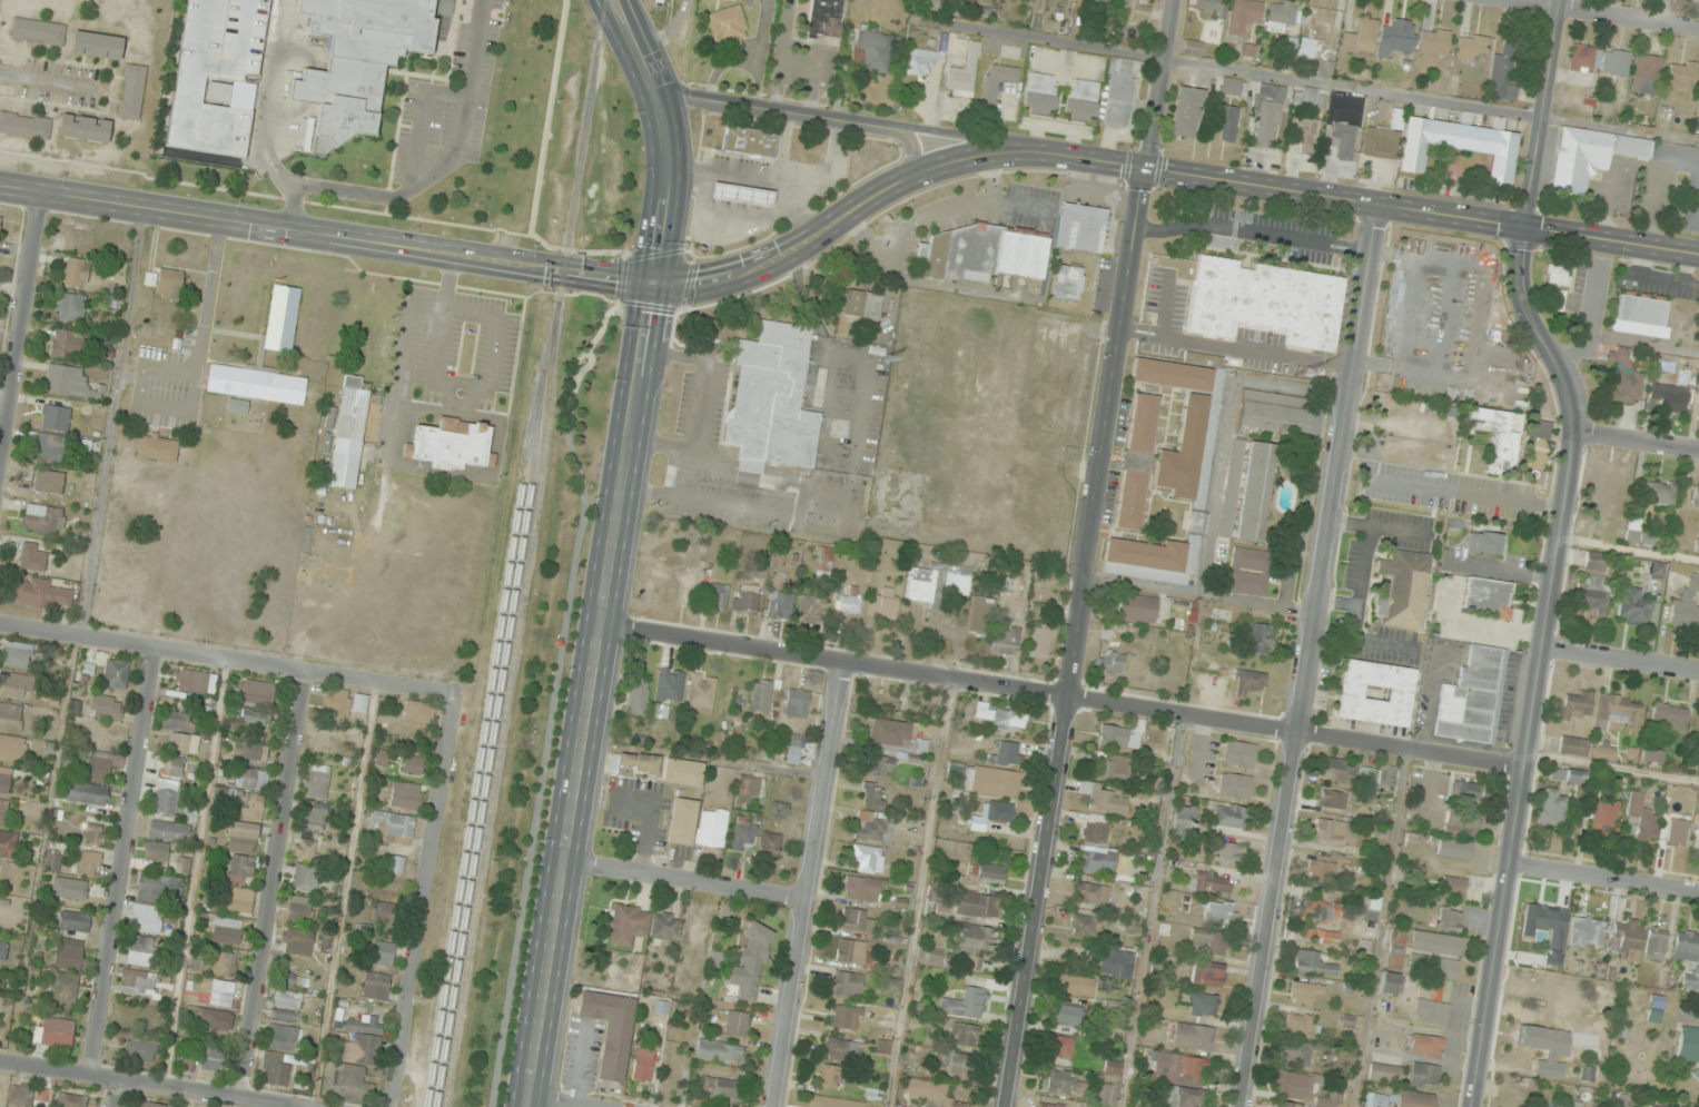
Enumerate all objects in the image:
building: (1697, 0)
building: (1095, 1)
building: (927, 3)
building: (1208, 4)
building: (1136, 10)
road: (1663, 11)
road: (1609, 13)
building: (1244, 16)
building: (1282, 16)
building: (824, 19)
building: (728, 27)
building: (38, 31)
road: (671, 31)
road: (240, 34)
building: (1360, 37)
building: (1396, 38)
building: (1433, 41)
building: (97, 45)
road: (199, 46)
building: (1193, 47)
building: (1471, 47)
building: (1288, 49)
building: (1248, 50)
building: (872, 51)
building: (1582, 58)
building: (356, 59)
building: (925, 59)
building: (1616, 62)
road: (230, 69)
building: (1505, 72)
building: (1646, 73)
building: (964, 75)
building: (1680, 78)
building: (997, 80)
road: (1157, 82)
building: (1233, 87)
building: (131, 91)
building: (218, 91)
building: (1119, 91)
building: (1039, 93)
building: (1307, 97)
road: (260, 99)
building: (1080, 99)
road: (773, 110)
building: (1186, 111)
building: (1267, 112)
road: (422, 116)
road: (1538, 116)
building: (1226, 122)
building: (24, 126)
building: (83, 128)
building: (1343, 132)
building: (1305, 135)
road: (961, 137)
building: (1382, 139)
building: (749, 141)
building: (1460, 145)
road: (909, 146)
building: (213, 156)
building: (1590, 156)
road: (448, 160)
traffic signals: (1146, 166)
building: (741, 195)
road: (290, 206)
building: (1081, 228)
traffic signals: (1518, 233)
road: (1608, 244)
building: (981, 253)
road: (770, 260)
building: (76, 273)
building: (1067, 281)
building: (1558, 283)
building: (170, 284)
traffic signals: (653, 285)
building: (1265, 302)
building: (861, 304)
building: (69, 308)
building: (1640, 315)
building: (281, 318)
road: (20, 328)
building: (69, 345)
building: (1624, 376)
building: (67, 380)
building: (1698, 382)
building: (256, 383)
building: (1668, 397)
building: (767, 398)
building: (238, 406)
building: (1274, 413)
building: (55, 417)
building: (1188, 421)
building: (348, 433)
building: (1500, 437)
road: (1633, 437)
building: (452, 445)
building: (158, 446)
building: (48, 447)
building: (1136, 462)
building: (48, 482)
building: (1247, 491)
building: (1658, 493)
building: (1692, 493)
building: (42, 521)
building: (1197, 522)
building: (1638, 533)
building: (1488, 543)
building: (1697, 546)
road: (613, 548)
railway: (529, 554)
building: (33, 556)
building: (1150, 560)
building: (1594, 561)
building: (823, 563)
building: (1657, 570)
building: (1249, 571)
building: (938, 583)
building: (685, 587)
building: (1403, 589)
building: (43, 593)
building: (1593, 595)
building: (718, 596)
building: (1486, 596)
building: (744, 597)
building: (848, 600)
building: (1687, 603)
building: (780, 604)
building: (883, 604)
building: (1633, 606)
building: (1137, 607)
building: (811, 609)
building: (980, 615)
building: (1107, 631)
road: (1077, 636)
building: (1257, 639)
building: (1006, 640)
building: (1040, 642)
building: (17, 654)
road: (1308, 656)
road: (228, 659)
road: (1621, 660)
building: (1109, 662)
road: (1540, 665)
building: (116, 673)
building: (191, 681)
building: (1248, 682)
building: (13, 685)
building: (669, 685)
building: (257, 691)
building: (701, 692)
building: (1374, 693)
building: (761, 695)
road: (1063, 696)
building: (639, 698)
building: (1473, 698)
building: (359, 702)
building: (336, 703)
building: (797, 703)
building: (1575, 705)
building: (107, 706)
building: (418, 711)
building: (1619, 713)
building: (10, 716)
building: (1669, 716)
building: (1002, 718)
building: (253, 719)
building: (178, 720)
building: (890, 732)
building: (1115, 735)
building: (184, 742)
building: (1573, 745)
building: (794, 748)
building: (12, 749)
building: (1604, 750)
building: (249, 752)
building: (1005, 753)
building: (1239, 753)
building: (1657, 755)
building: (634, 762)
building: (414, 764)
building: (174, 765)
building: (880, 765)
building: (1114, 767)
building: (98, 769)
building: (1336, 769)
building: (682, 772)
building: (1366, 772)
building: (1569, 774)
building: (245, 777)
building: (1385, 777)
building: (4, 780)
building: (317, 780)
building: (992, 781)
building: (1234, 785)
building: (747, 789)
building: (1465, 789)
building: (87, 793)
building: (405, 795)
building: (873, 795)
building: (168, 797)
building: (1103, 799)
building: (1332, 799)
building: (1552, 807)
building: (250, 808)
building: (2, 811)
building: (986, 816)
building: (1229, 816)
building: (316, 817)
building: (1182, 817)
building: (1604, 817)
building: (1641, 820)
building: (682, 821)
building: (1461, 823)
building: (712, 827)
building: (873, 827)
building: (393, 828)
building: (1095, 829)
building: (169, 830)
building: (1334, 832)
building: (1677, 832)
building: (93, 834)
building: (744, 834)
building: (241, 837)
building: (1697, 839)
building: (7, 844)
building: (770, 844)
building: (1144, 844)
building: (1454, 848)
building: (1227, 850)
building: (156, 852)
building: (867, 858)
building: (52, 862)
road: (124, 862)
building: (1105, 862)
building: (89, 863)
building: (395, 863)
building: (182, 864)
building: (306, 866)
building: (239, 868)
building: (1322, 869)
road: (195, 872)
building: (981, 874)
road: (1604, 879)
building: (1208, 880)
road: (686, 881)
road: (273, 883)
road: (808, 884)
building: (69, 887)
building: (1454, 887)
building: (159, 888)
building: (862, 889)
building: (1091, 892)
road: (344, 895)
building: (238, 899)
road: (422, 901)
building: (977, 905)
building: (298, 910)
building: (383, 910)
building: (1324, 910)
building: (1221, 911)
building: (146, 918)
building: (1450, 919)
building: (75, 920)
building: (857, 920)
building: (628, 923)
building: (1084, 927)
building: (226, 931)
building: (1586, 932)
building: (1320, 936)
building: (1627, 939)
building: (297, 941)
building: (1209, 941)
building: (975, 943)
building: (1436, 943)
building: (1656, 943)
building: (1686, 949)
building: (2, 950)
building: (1396, 950)
building: (141, 951)
building: (853, 951)
building: (383, 952)
building: (68, 953)
building: (930, 957)
building: (750, 963)
building: (1117, 963)
building: (1313, 963)
building: (216, 965)
building: (1433, 966)
building: (1206, 973)
building: (287, 979)
building: (1691, 980)
building: (137, 981)
building: (1391, 982)
building: (846, 985)
building: (1075, 985)
building: (62, 986)
building: (892, 986)
building: (375, 987)
building: (1304, 991)
building: (221, 992)
building: (965, 1002)
building: (1204, 1005)
building: (286, 1006)
building: (1431, 1011)
building: (1067, 1014)
building: (846, 1017)
building: (216, 1019)
building: (737, 1021)
building: (365, 1024)
building: (1301, 1024)
building: (611, 1029)
building: (57, 1032)
building: (964, 1034)
building: (1193, 1036)
building: (284, 1037)
building: (1532, 1037)
building: (1688, 1044)
building: (1426, 1045)
building: (1061, 1046)
building: (840, 1049)
building: (139, 1050)
building: (720, 1051)
building: (1295, 1052)
building: (211, 1059)
building: (957, 1061)
building: (186, 1062)
park: (1685, 1064)
building: (350, 1066)
building: (1113, 1066)
building: (277, 1067)
building: (1181, 1067)
building: (643, 1069)
building: (1384, 1073)
building: (1423, 1075)
building: (830, 1077)
building: (1058, 1080)
road: (149, 1084)
building: (1292, 1084)
park: (3, 1086)
building: (719, 1087)
road: (113, 1093)
building: (930, 1093)
building: (1108, 1095)
building: (21, 1097)
building: (1185, 1097)
building: (1413, 1099)
building: (69, 1100)
road: (559, 1101)
building: (1330, 1101)
building: (151, 1104)
building: (823, 1104)
building: (1286, 1104)
building: (1049, 1105)
building: (898, 1106)
building: (1549, 1106)
building: (1577, 1106)
building: (1657, 1106)

